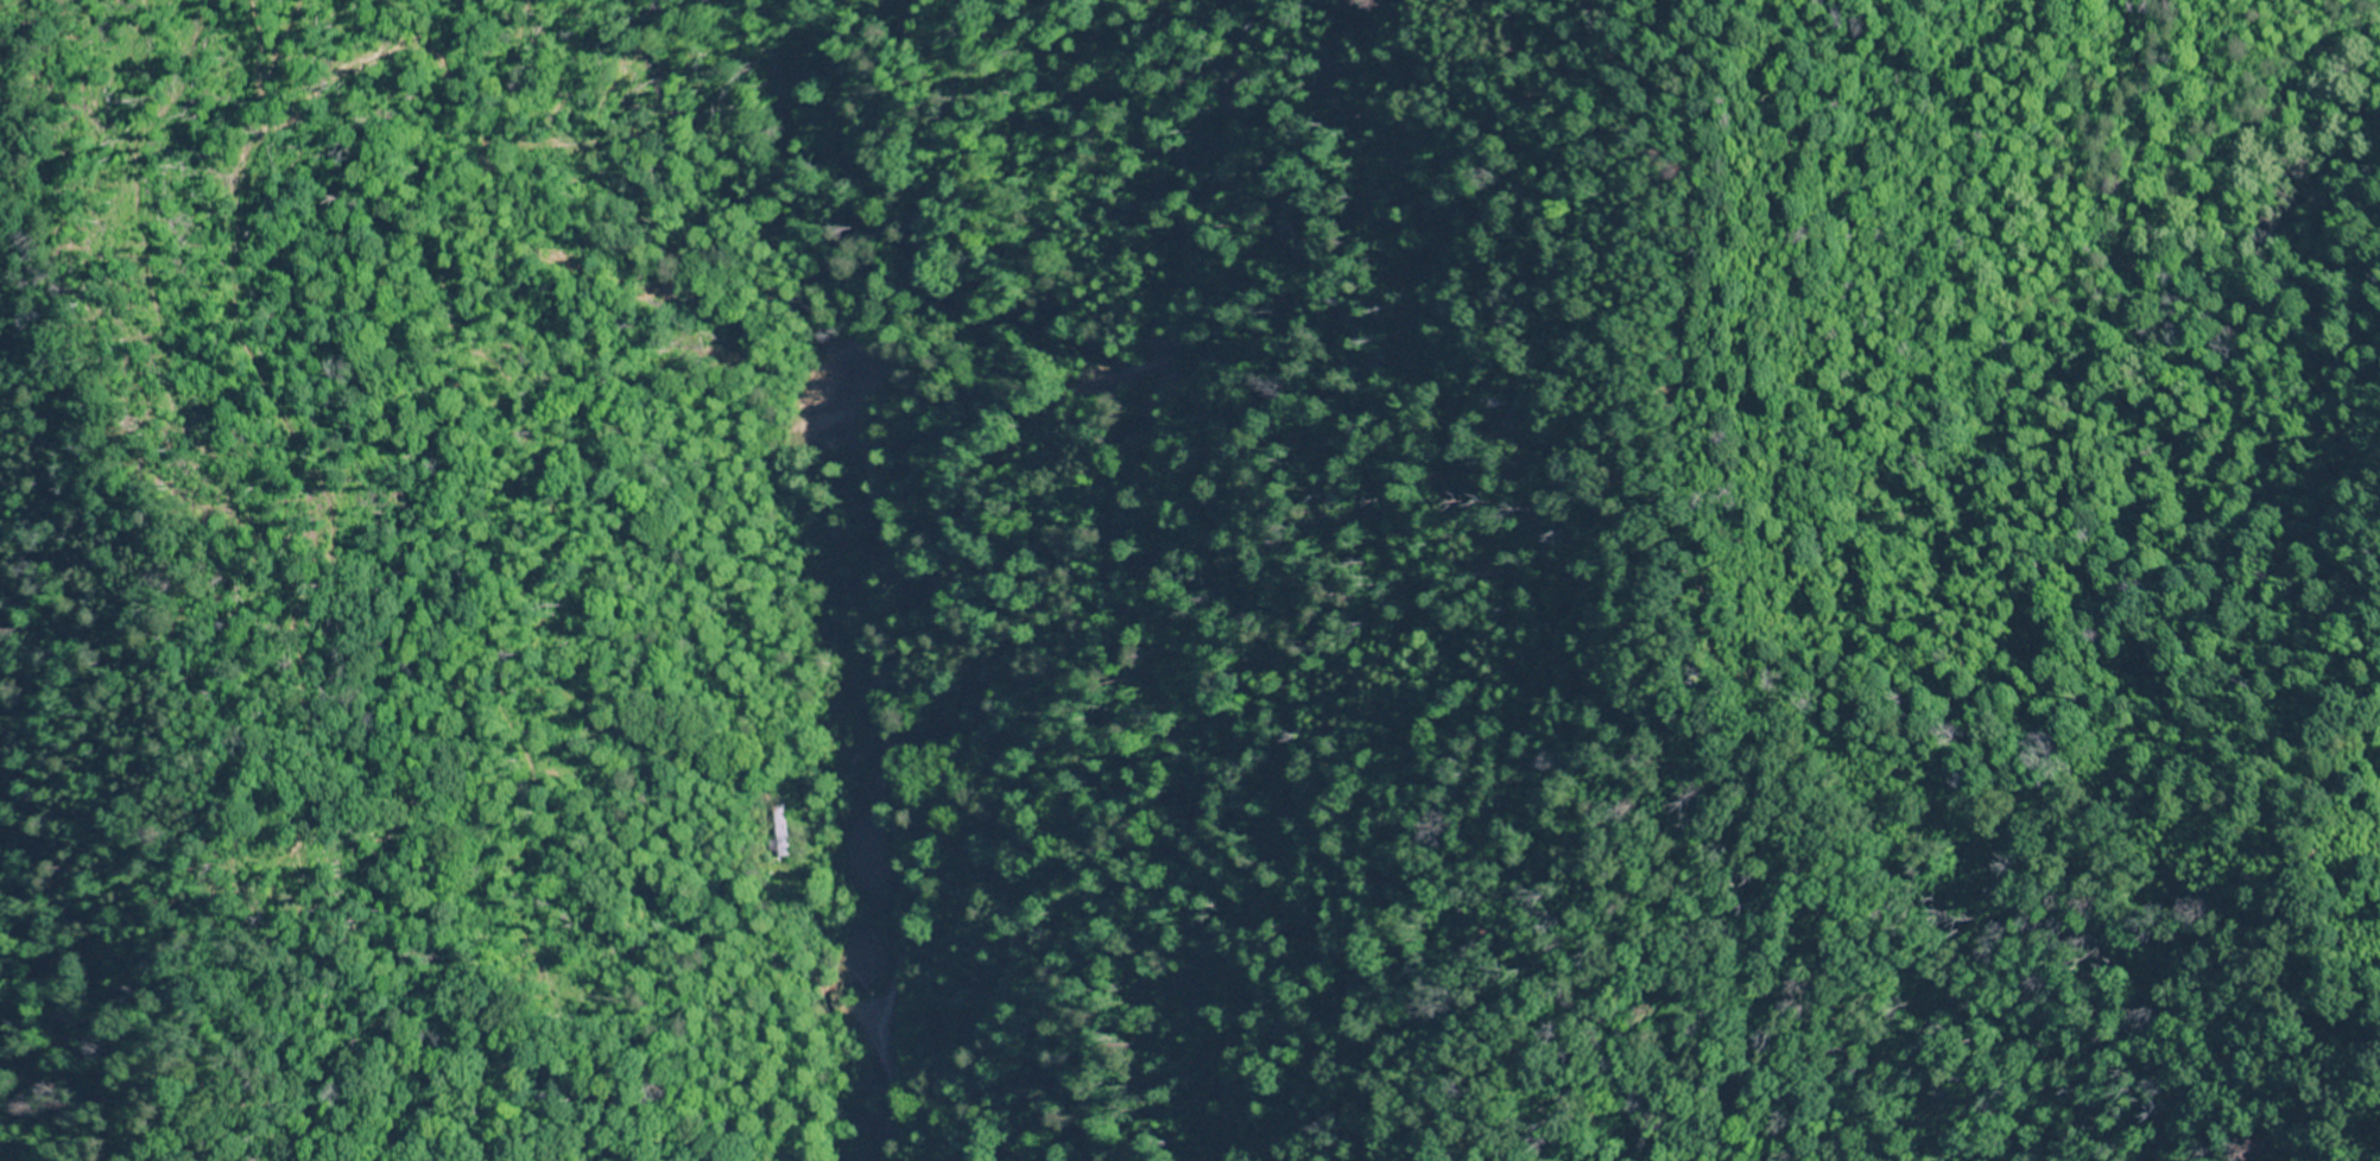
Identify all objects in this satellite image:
building: (850, 591)
building: (781, 836)

